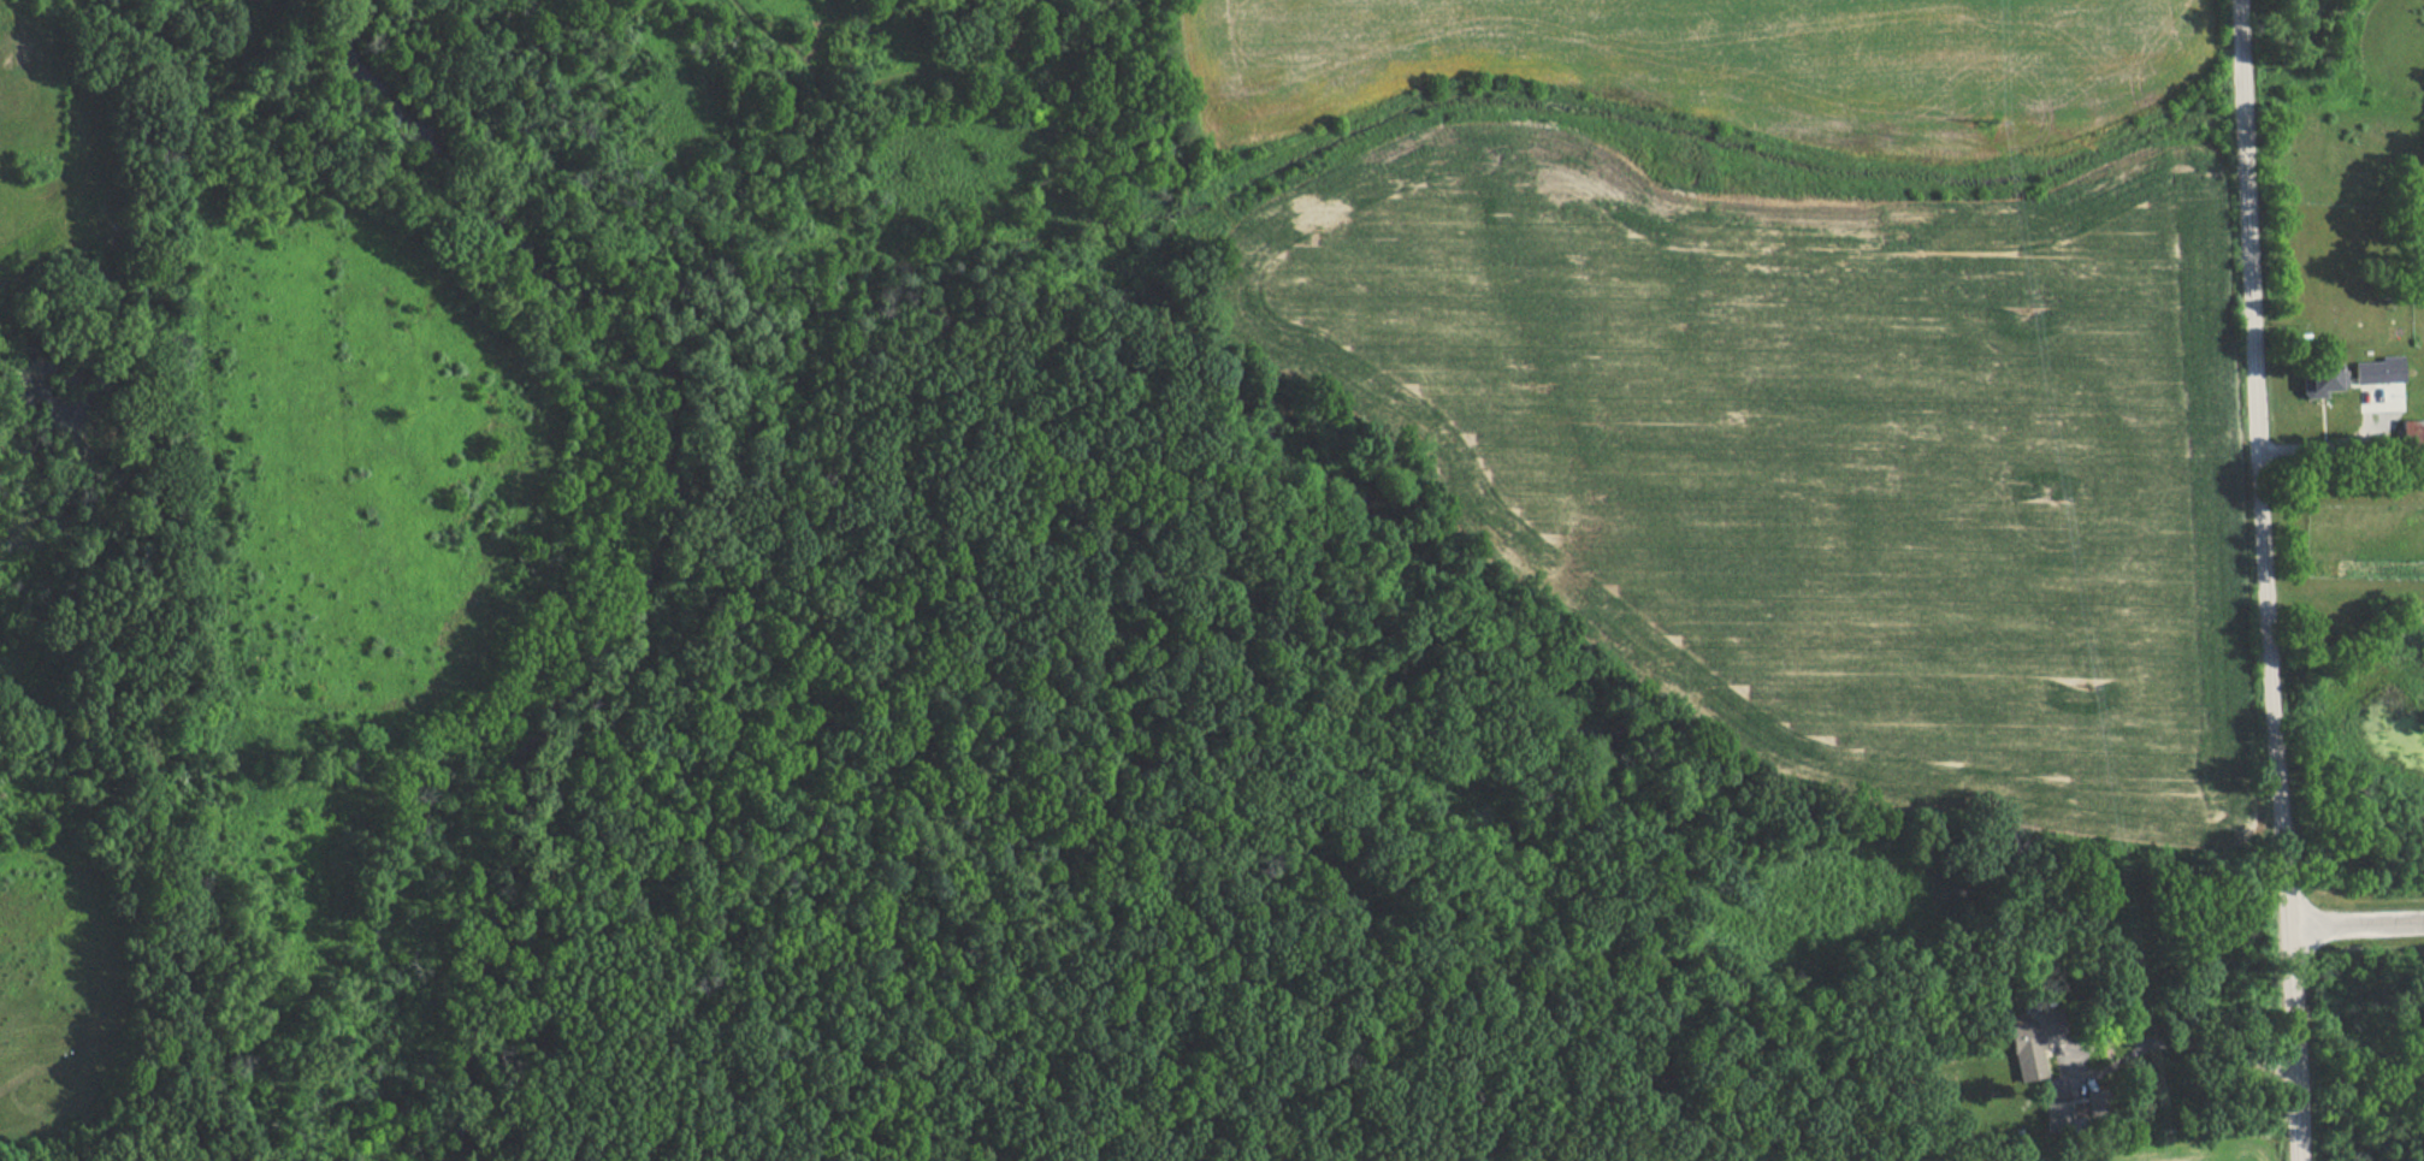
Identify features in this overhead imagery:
road: (773, 43)
crop: (1719, 64)
road: (936, 72)
road: (793, 207)
road: (756, 321)
building: (2361, 372)
building: (2313, 378)
building: (2408, 437)
road: (2334, 446)
crop: (1825, 451)
road: (2257, 463)
road: (849, 729)
road: (2357, 923)
road: (2293, 1043)
road: (2194, 1046)
crop: (2057, 1151)

